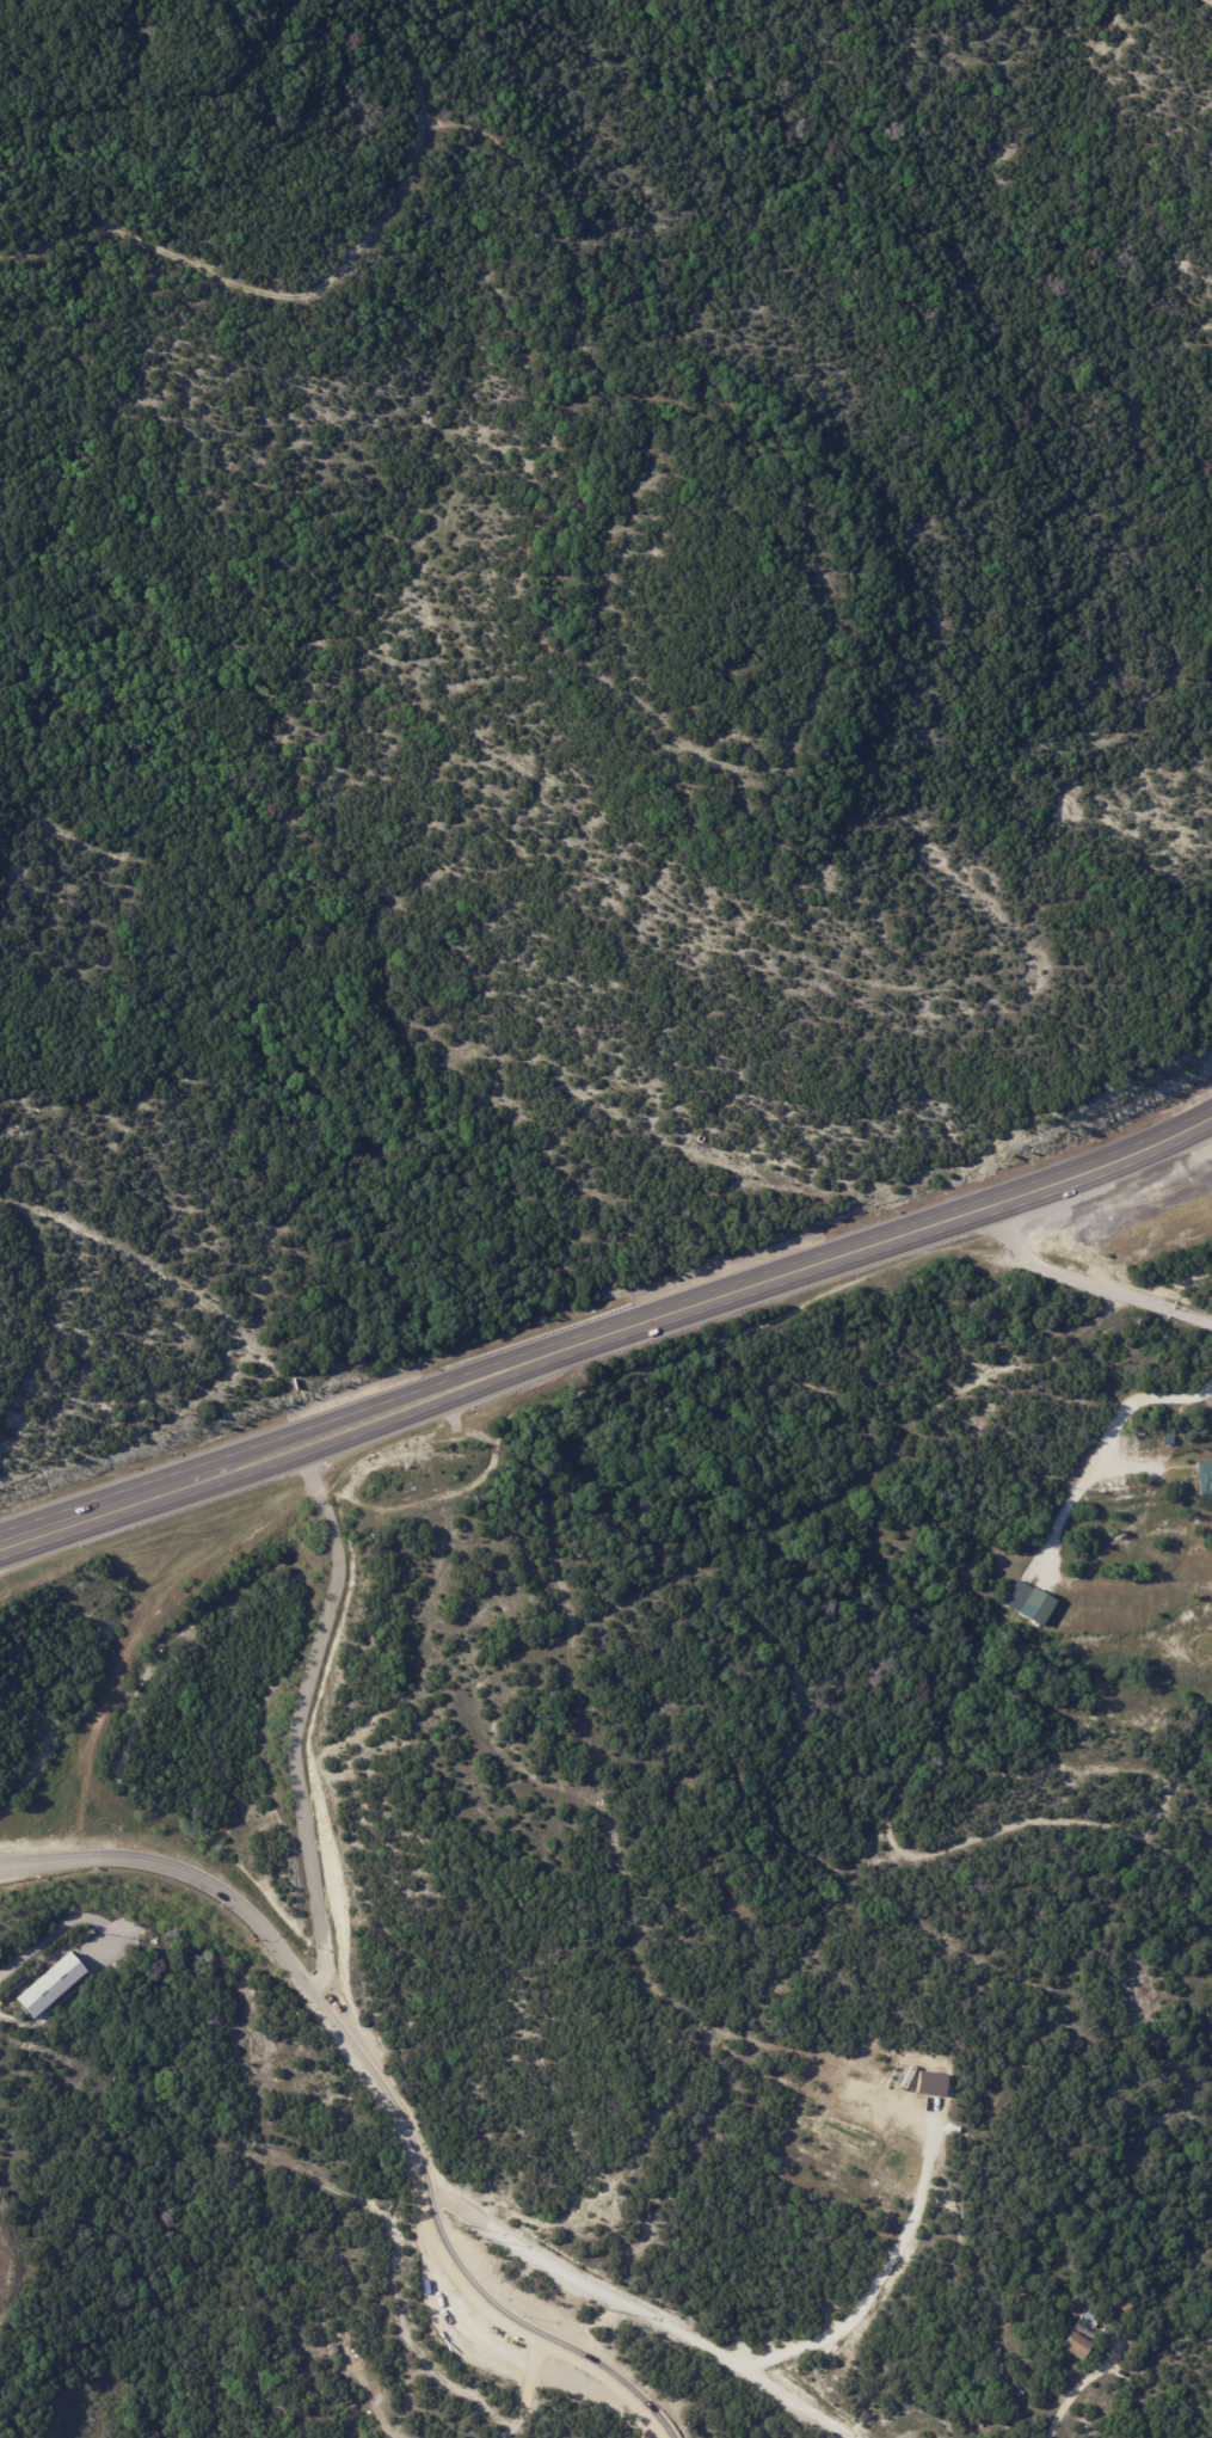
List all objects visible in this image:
road: (1081, 1270)
road: (609, 1333)
road: (1125, 1399)
building: (1205, 1476)
building: (1036, 1608)
road: (297, 1711)
road: (57, 1932)
building: (56, 1986)
road: (375, 2083)
road: (881, 2279)
building: (1126, 2307)
road: (641, 2313)
building: (1075, 2345)
road: (1089, 2388)

